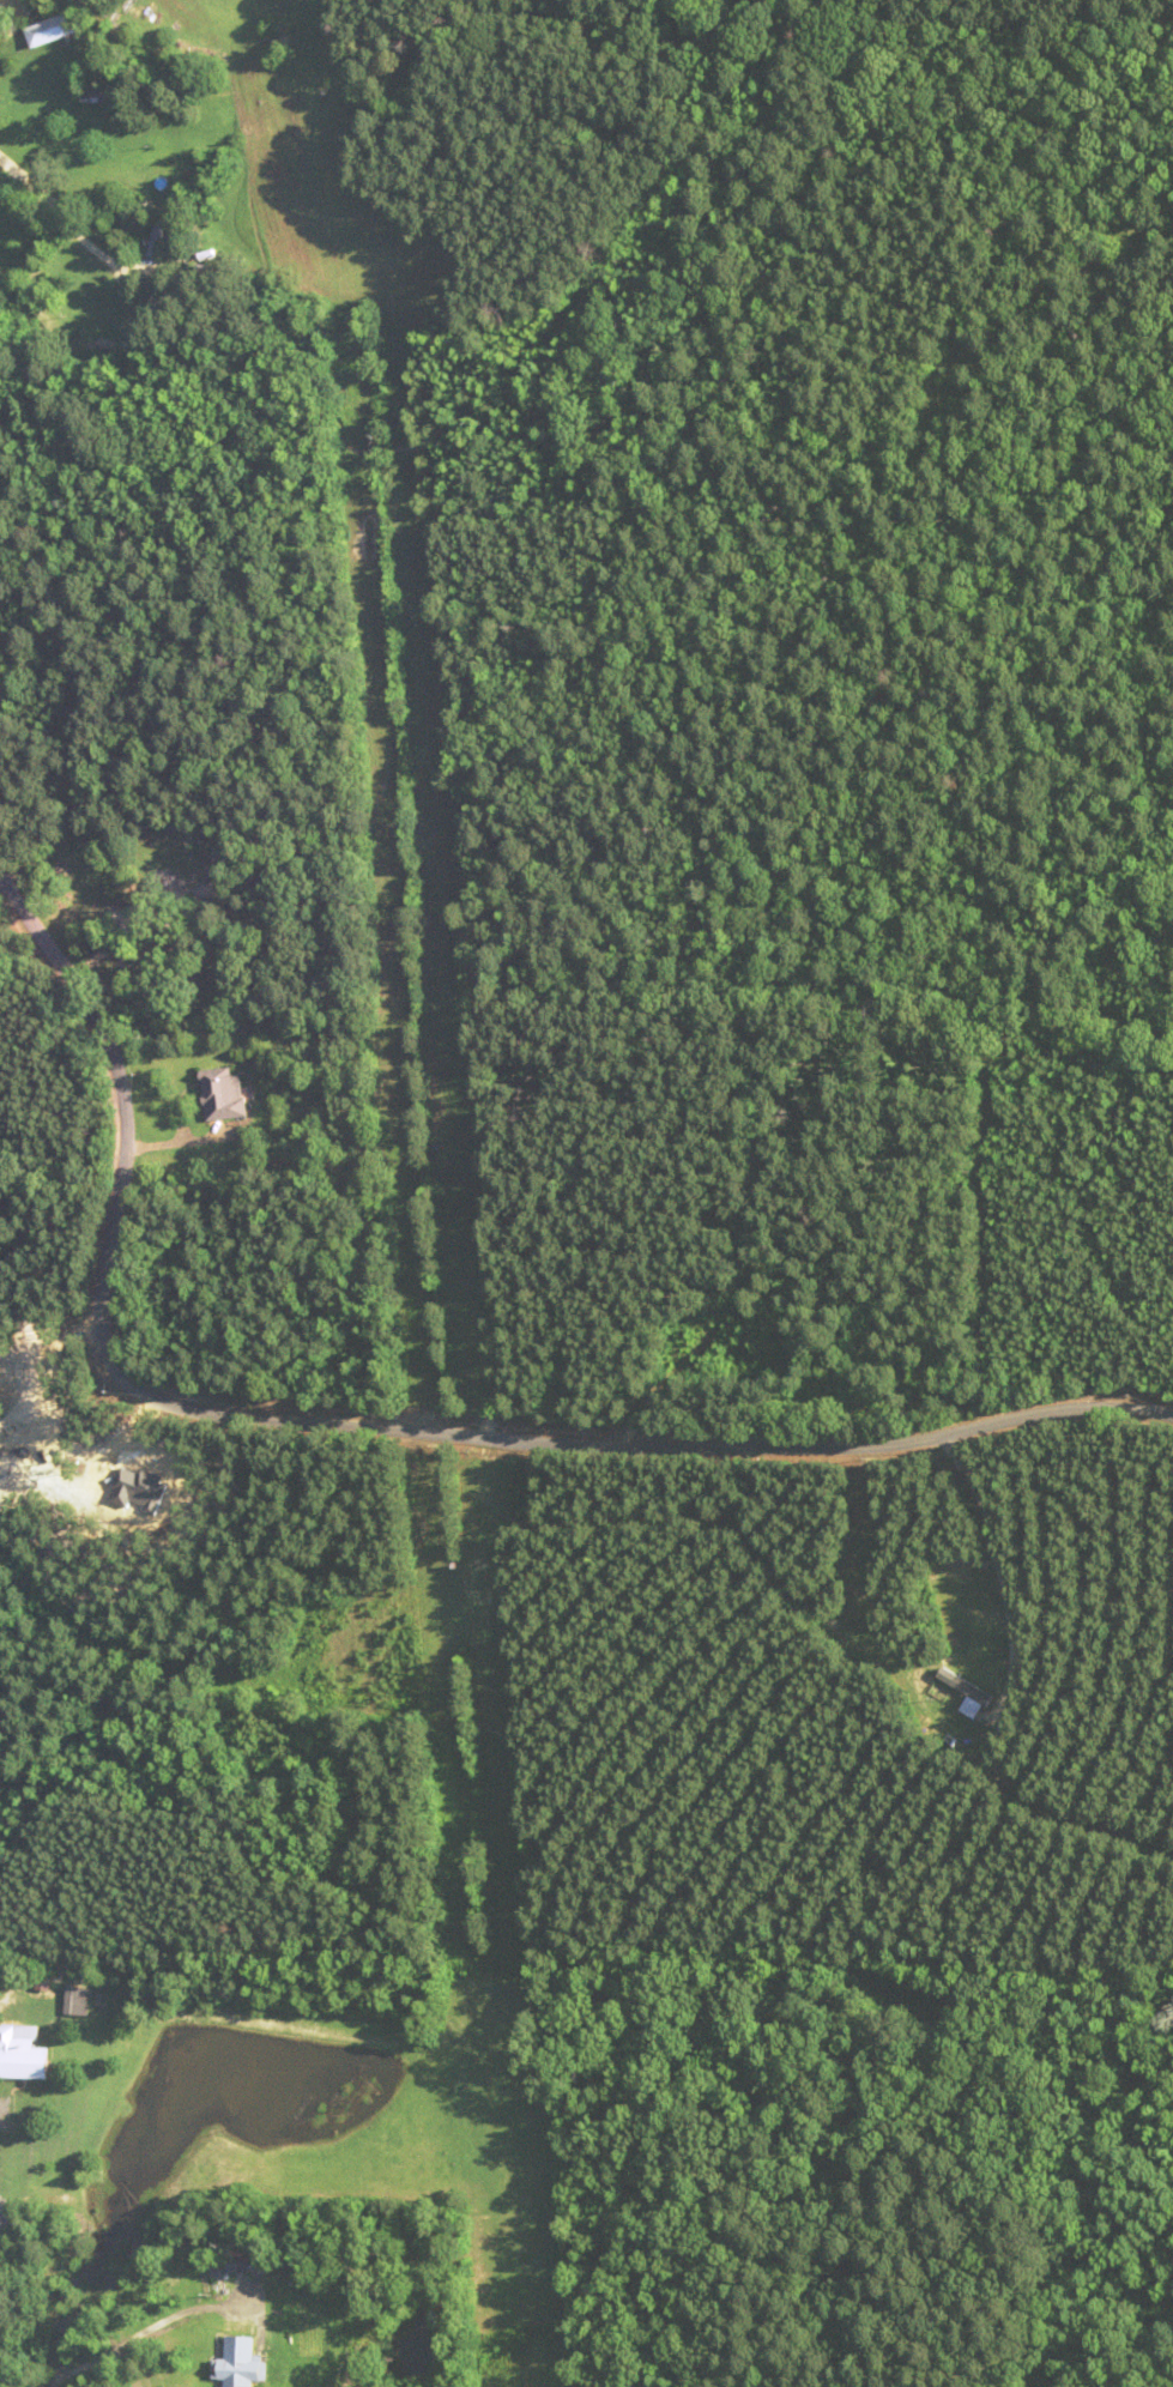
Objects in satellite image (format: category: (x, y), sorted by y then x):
building: (50, 30)
building: (157, 232)
building: (107, 349)
building: (238, 835)
building: (225, 1094)
road: (369, 1425)
building: (20, 2056)
building: (244, 2252)
building: (240, 2363)

